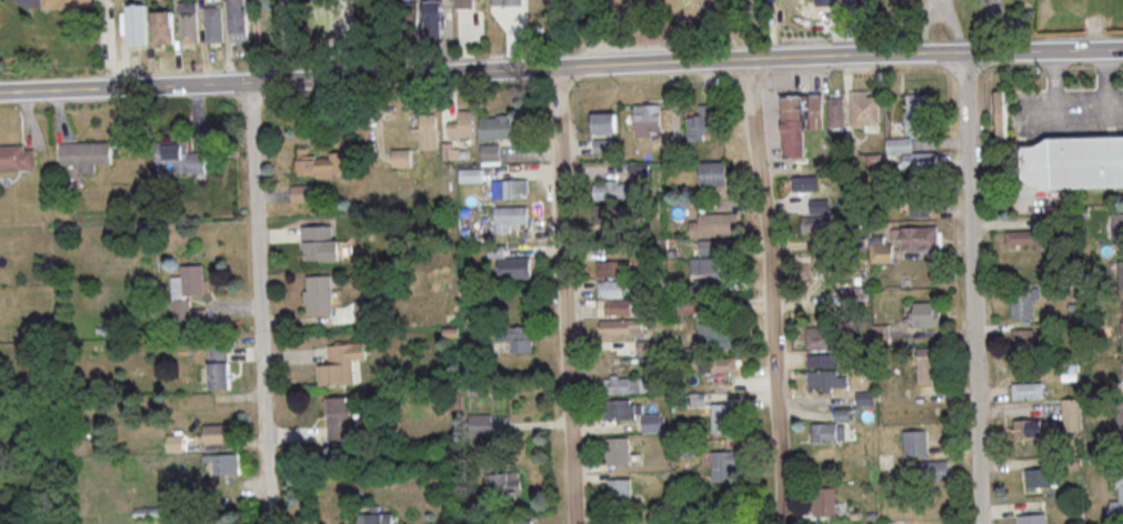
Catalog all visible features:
building: (263, 1)
building: (498, 1)
building: (514, 1)
building: (825, 1)
building: (853, 2)
building: (66, 3)
building: (464, 3)
building: (413, 9)
building: (434, 18)
building: (239, 20)
building: (188, 21)
park: (663, 21)
building: (137, 23)
building: (213, 23)
building: (162, 26)
parking lot: (633, 46)
road: (561, 68)
building: (864, 105)
building: (836, 110)
building: (915, 112)
building: (1001, 112)
parking lot: (1062, 112)
building: (646, 118)
building: (604, 121)
building: (702, 121)
building: (799, 121)
building: (462, 124)
building: (495, 125)
building: (427, 130)
building: (899, 144)
building: (450, 150)
building: (491, 151)
building: (86, 153)
building: (16, 157)
building: (180, 157)
building: (400, 157)
building: (919, 159)
building: (320, 162)
building: (1072, 163)
building: (712, 172)
building: (471, 174)
building: (804, 181)
building: (620, 183)
building: (509, 188)
building: (298, 192)
building: (919, 200)
building: (819, 203)
building: (603, 211)
building: (509, 216)
building: (815, 222)
building: (715, 224)
building: (1116, 224)
building: (915, 235)
building: (320, 242)
building: (881, 251)
building: (509, 262)
building: (708, 264)
building: (611, 268)
building: (611, 288)
road: (259, 289)
road: (974, 289)
road: (773, 291)
building: (188, 293)
building: (319, 293)
road: (566, 296)
building: (1023, 301)
building: (614, 305)
building: (924, 313)
building: (621, 325)
building: (1122, 327)
building: (881, 331)
building: (714, 333)
building: (819, 333)
building: (517, 336)
building: (1022, 339)
building: (821, 359)
building: (341, 362)
building: (1122, 362)
building: (718, 363)
building: (928, 364)
building: (218, 365)
building: (825, 379)
building: (623, 383)
building: (1027, 390)
building: (864, 396)
building: (619, 409)
building: (843, 413)
building: (1072, 413)
building: (721, 416)
building: (338, 417)
building: (1120, 420)
building: (651, 422)
building: (480, 423)
building: (1027, 429)
building: (828, 431)
building: (217, 433)
building: (174, 442)
building: (914, 442)
building: (618, 451)
building: (224, 462)
building: (722, 465)
building: (935, 468)
building: (1039, 476)
building: (501, 478)
building: (619, 488)
building: (823, 500)
building: (1117, 500)
road: (269, 510)
building: (375, 517)
building: (1031, 518)
building: (521, 522)

